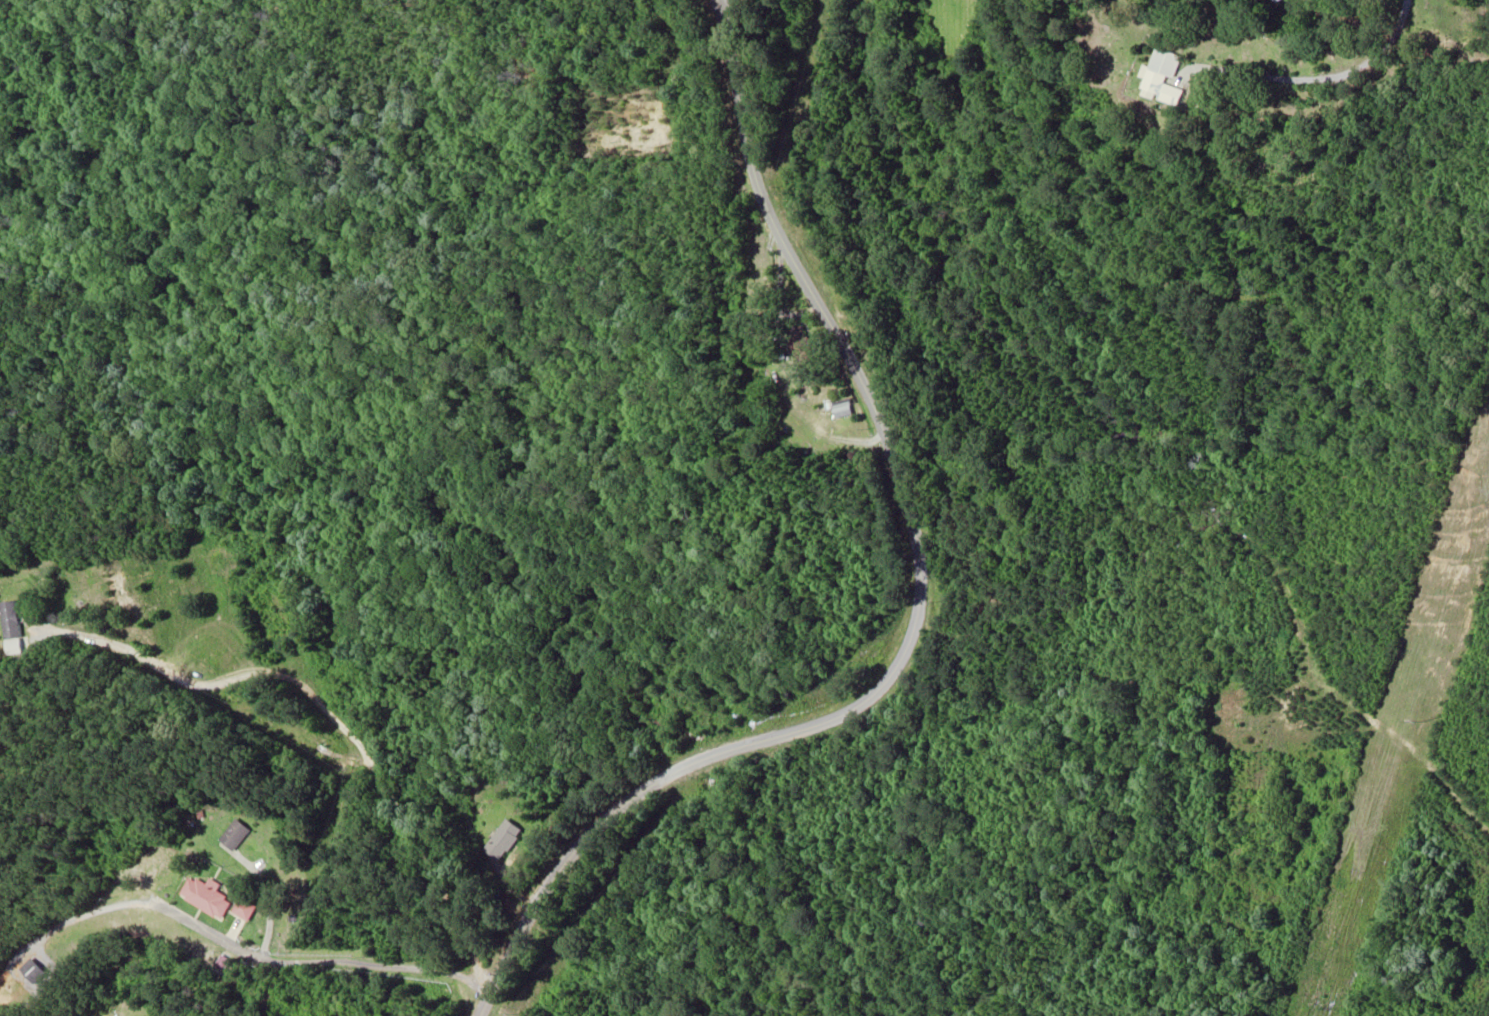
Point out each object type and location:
road: (753, 44)
building: (1164, 77)
building: (1299, 111)
building: (801, 340)
building: (842, 408)
road: (931, 599)
building: (10, 619)
building: (236, 835)
building: (503, 840)
building: (206, 897)
building: (245, 909)
building: (33, 972)

